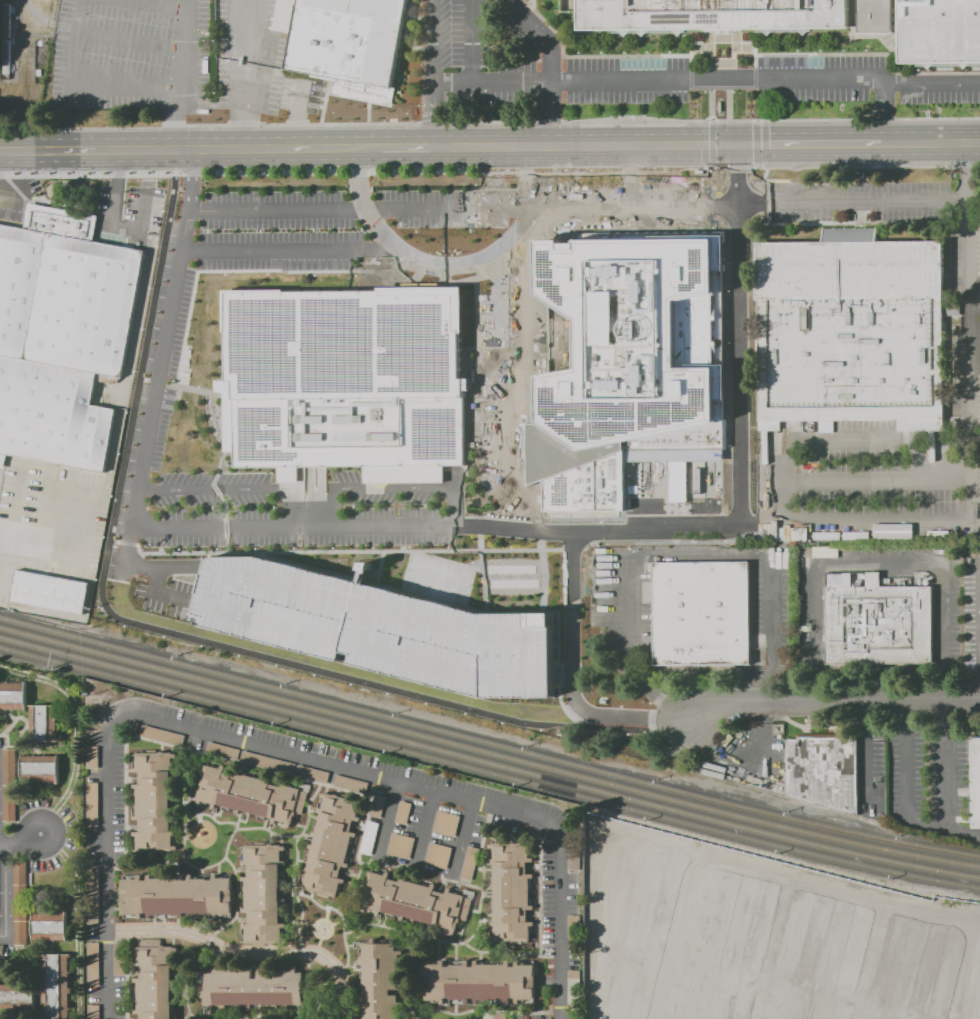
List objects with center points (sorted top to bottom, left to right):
road: (83, 4)
track: (0, 8)
road: (130, 12)
building: (712, 14)
road: (247, 21)
road: (51, 22)
building: (926, 29)
road: (48, 33)
road: (473, 42)
road: (243, 43)
building: (345, 43)
road: (721, 45)
park: (23, 57)
road: (549, 66)
road: (433, 74)
road: (176, 75)
road: (707, 85)
road: (238, 113)
road: (885, 115)
road: (578, 120)
road: (932, 145)
road: (810, 146)
traffic signals: (735, 147)
road: (584, 148)
road: (359, 150)
road: (409, 150)
road: (167, 152)
road: (539, 178)
road: (190, 180)
road: (8, 191)
building: (675, 197)
road: (633, 205)
road: (147, 207)
road: (114, 208)
road: (360, 209)
road: (394, 241)
road: (292, 248)
road: (494, 268)
building: (851, 330)
building: (61, 335)
building: (626, 338)
building: (346, 381)
road: (116, 430)
road: (851, 442)
road: (139, 474)
road: (852, 484)
road: (395, 486)
road: (225, 488)
road: (16, 499)
road: (308, 515)
road: (942, 525)
road: (434, 528)
road: (545, 531)
road: (81, 544)
road: (672, 556)
road: (143, 565)
road: (882, 567)
building: (50, 591)
road: (158, 591)
road: (571, 594)
building: (701, 613)
building: (878, 619)
building: (421, 636)
building: (13, 696)
road: (833, 706)
building: (45, 722)
building: (163, 735)
road: (867, 738)
railway: (488, 742)
railway: (488, 752)
road: (285, 753)
building: (92, 758)
road: (909, 761)
building: (268, 763)
railway: (488, 763)
building: (10, 766)
building: (40, 769)
building: (824, 771)
railway: (488, 772)
building: (312, 773)
road: (948, 781)
building: (976, 782)
building: (352, 783)
building: (251, 795)
building: (154, 800)
building: (9, 803)
building: (93, 803)
building: (377, 806)
building: (403, 812)
building: (446, 823)
road: (424, 826)
building: (369, 837)
road: (20, 842)
building: (331, 844)
building: (400, 846)
building: (438, 854)
road: (415, 863)
building: (470, 863)
road: (4, 891)
building: (263, 893)
building: (511, 893)
building: (93, 896)
building: (179, 896)
building: (412, 901)
building: (21, 902)
road: (75, 917)
building: (50, 925)
building: (1, 951)
building: (120, 957)
building: (803, 957)
road: (14, 959)
road: (39, 964)
building: (94, 964)
building: (155, 979)
building: (381, 980)
road: (17, 981)
building: (481, 981)
building: (57, 986)
building: (254, 988)
building: (807, 994)
building: (18, 997)
building: (94, 1012)
building: (495, 1015)
road: (76, 1018)

